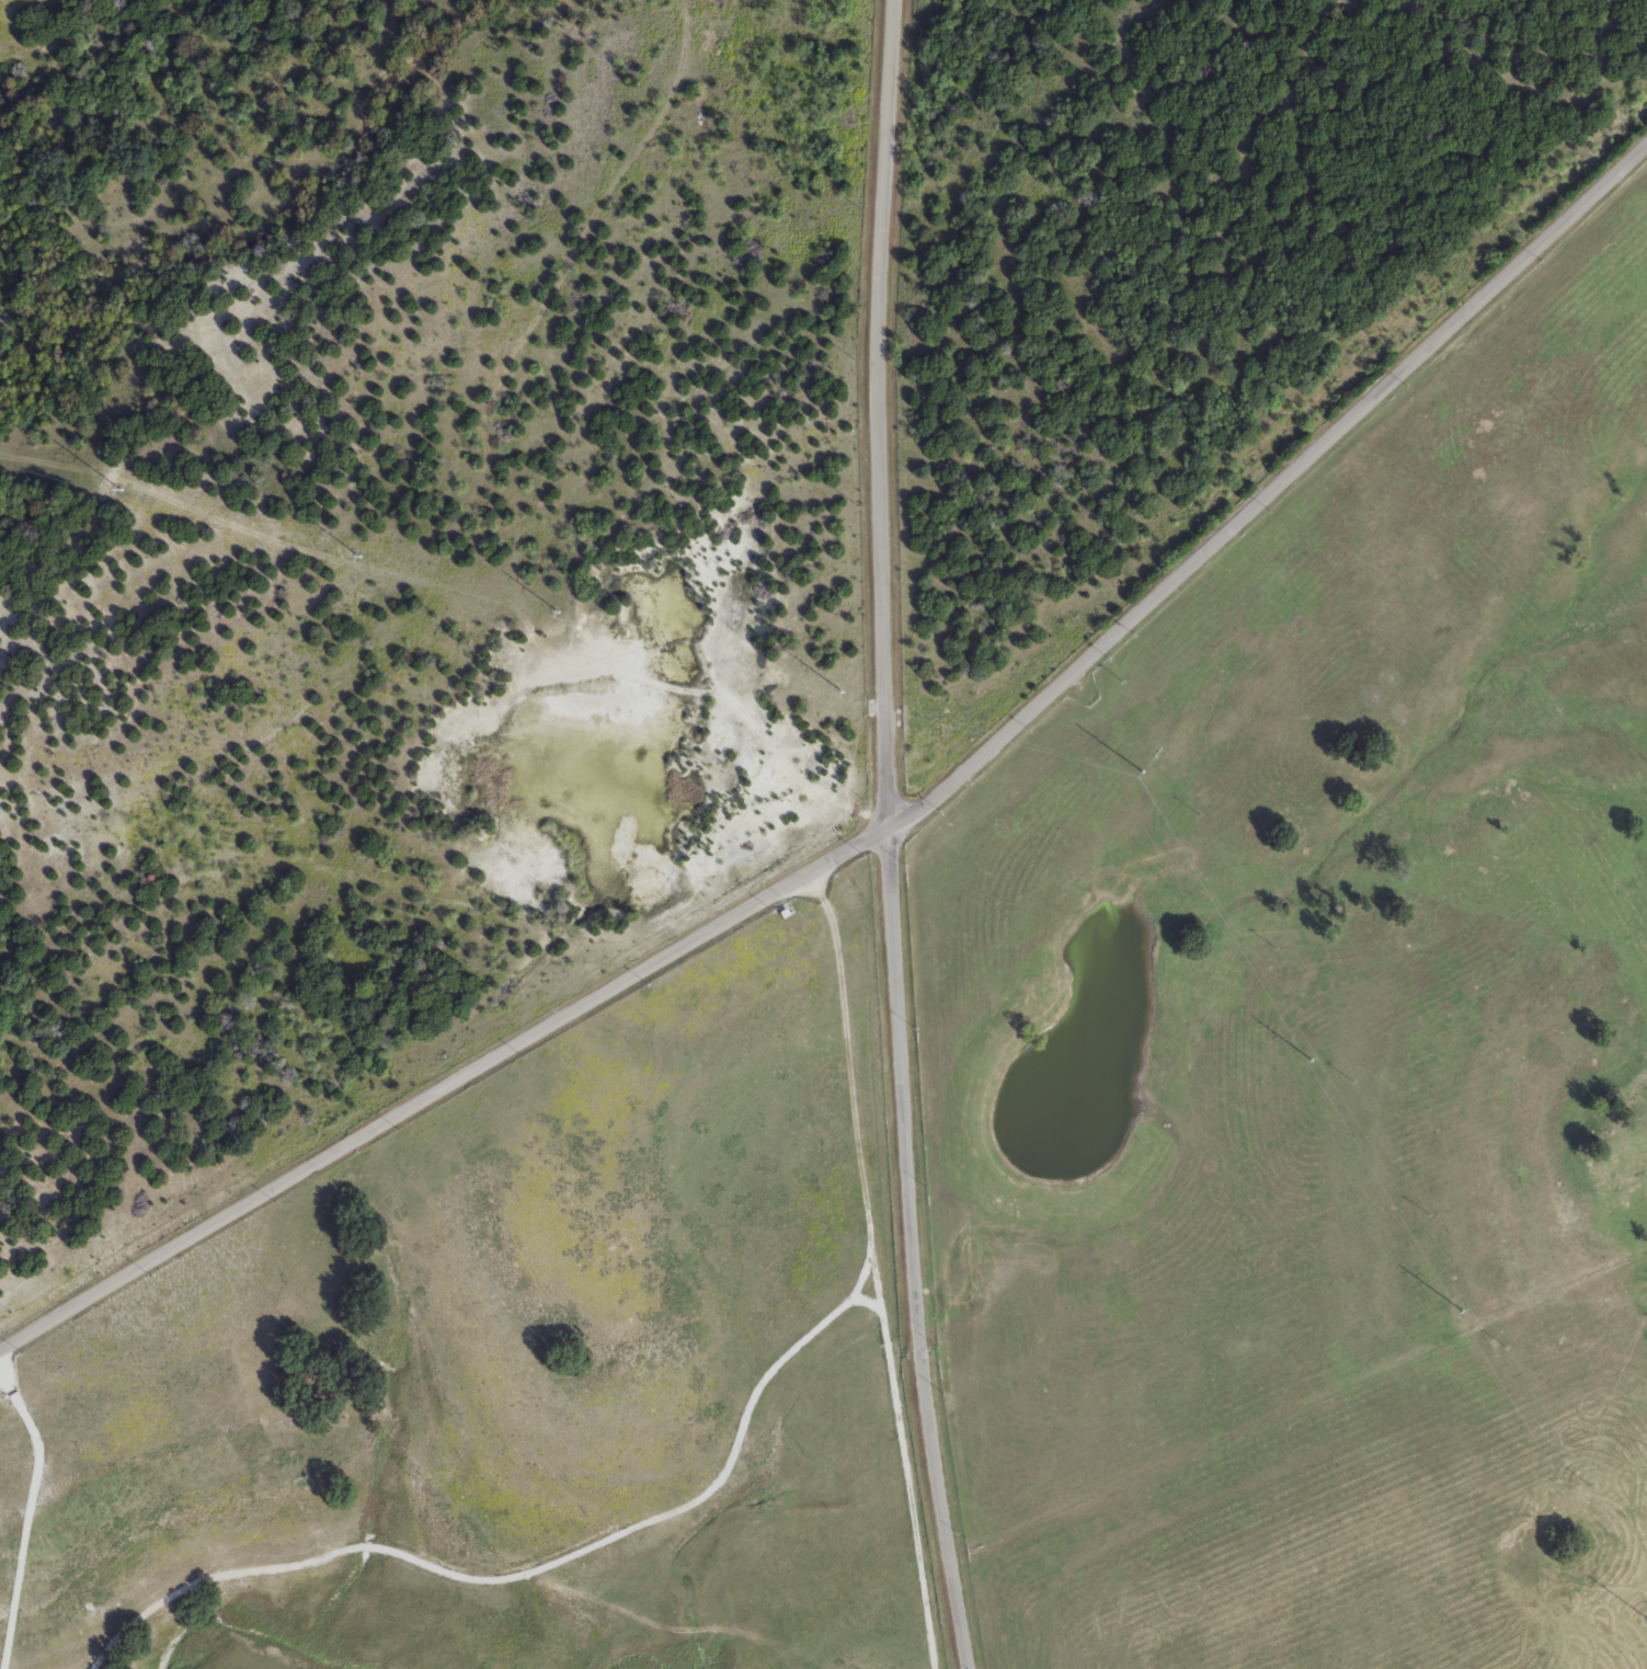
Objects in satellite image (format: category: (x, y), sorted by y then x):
road: (879, 412)
road: (883, 827)
road: (914, 1248)
road: (878, 1268)
road: (863, 1278)
road: (32, 1506)
road: (529, 1570)

